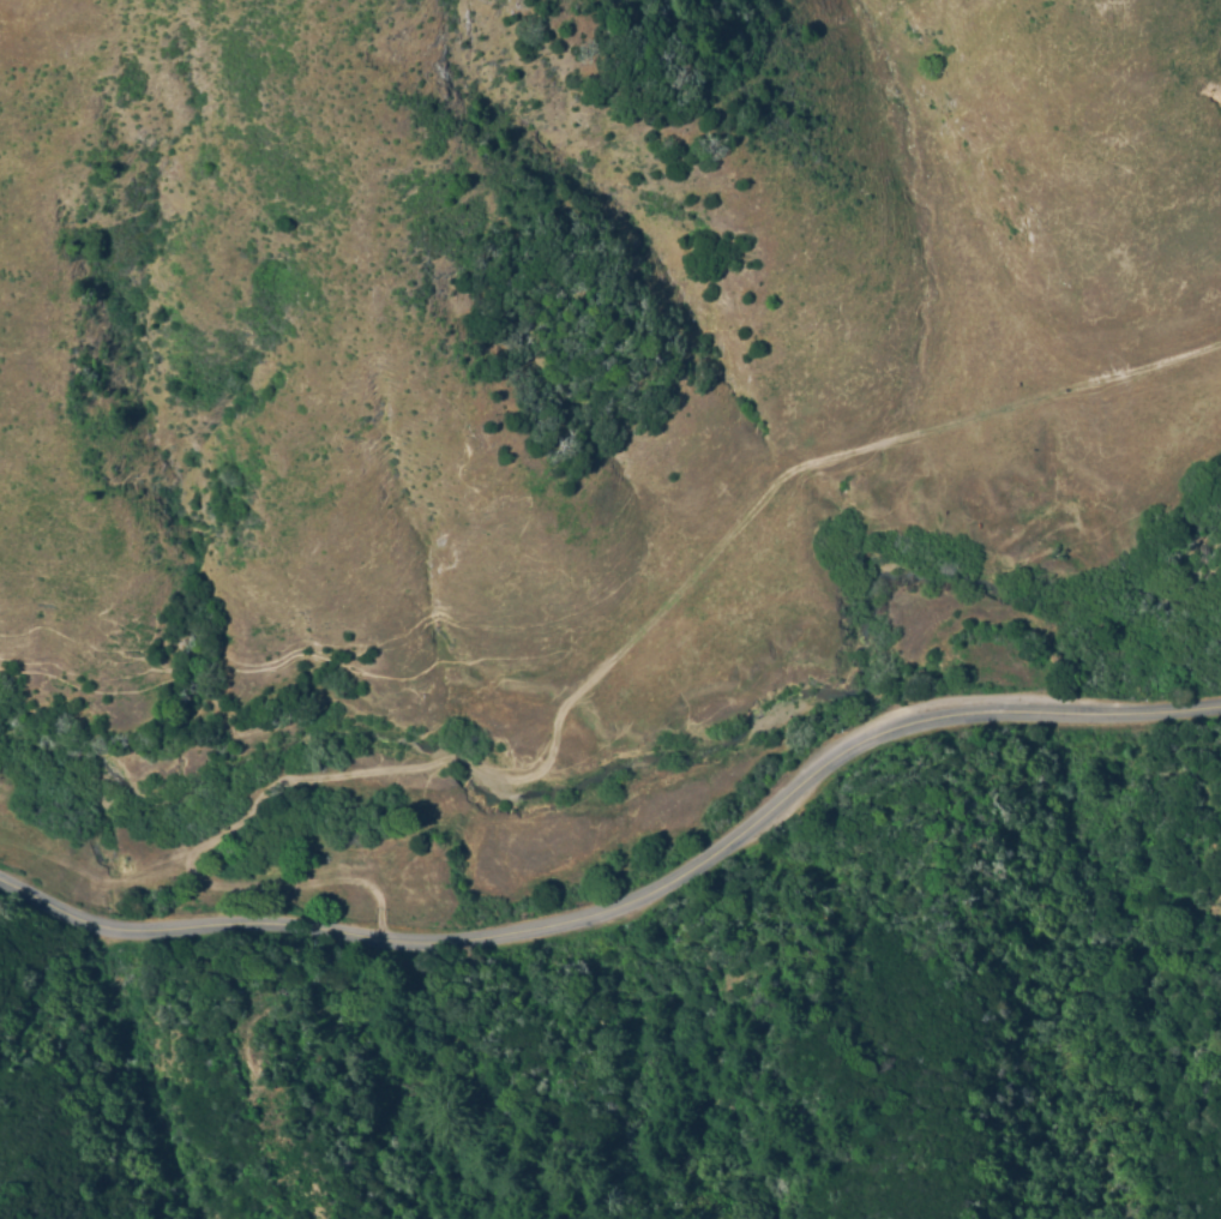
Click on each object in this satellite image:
road: (633, 905)

